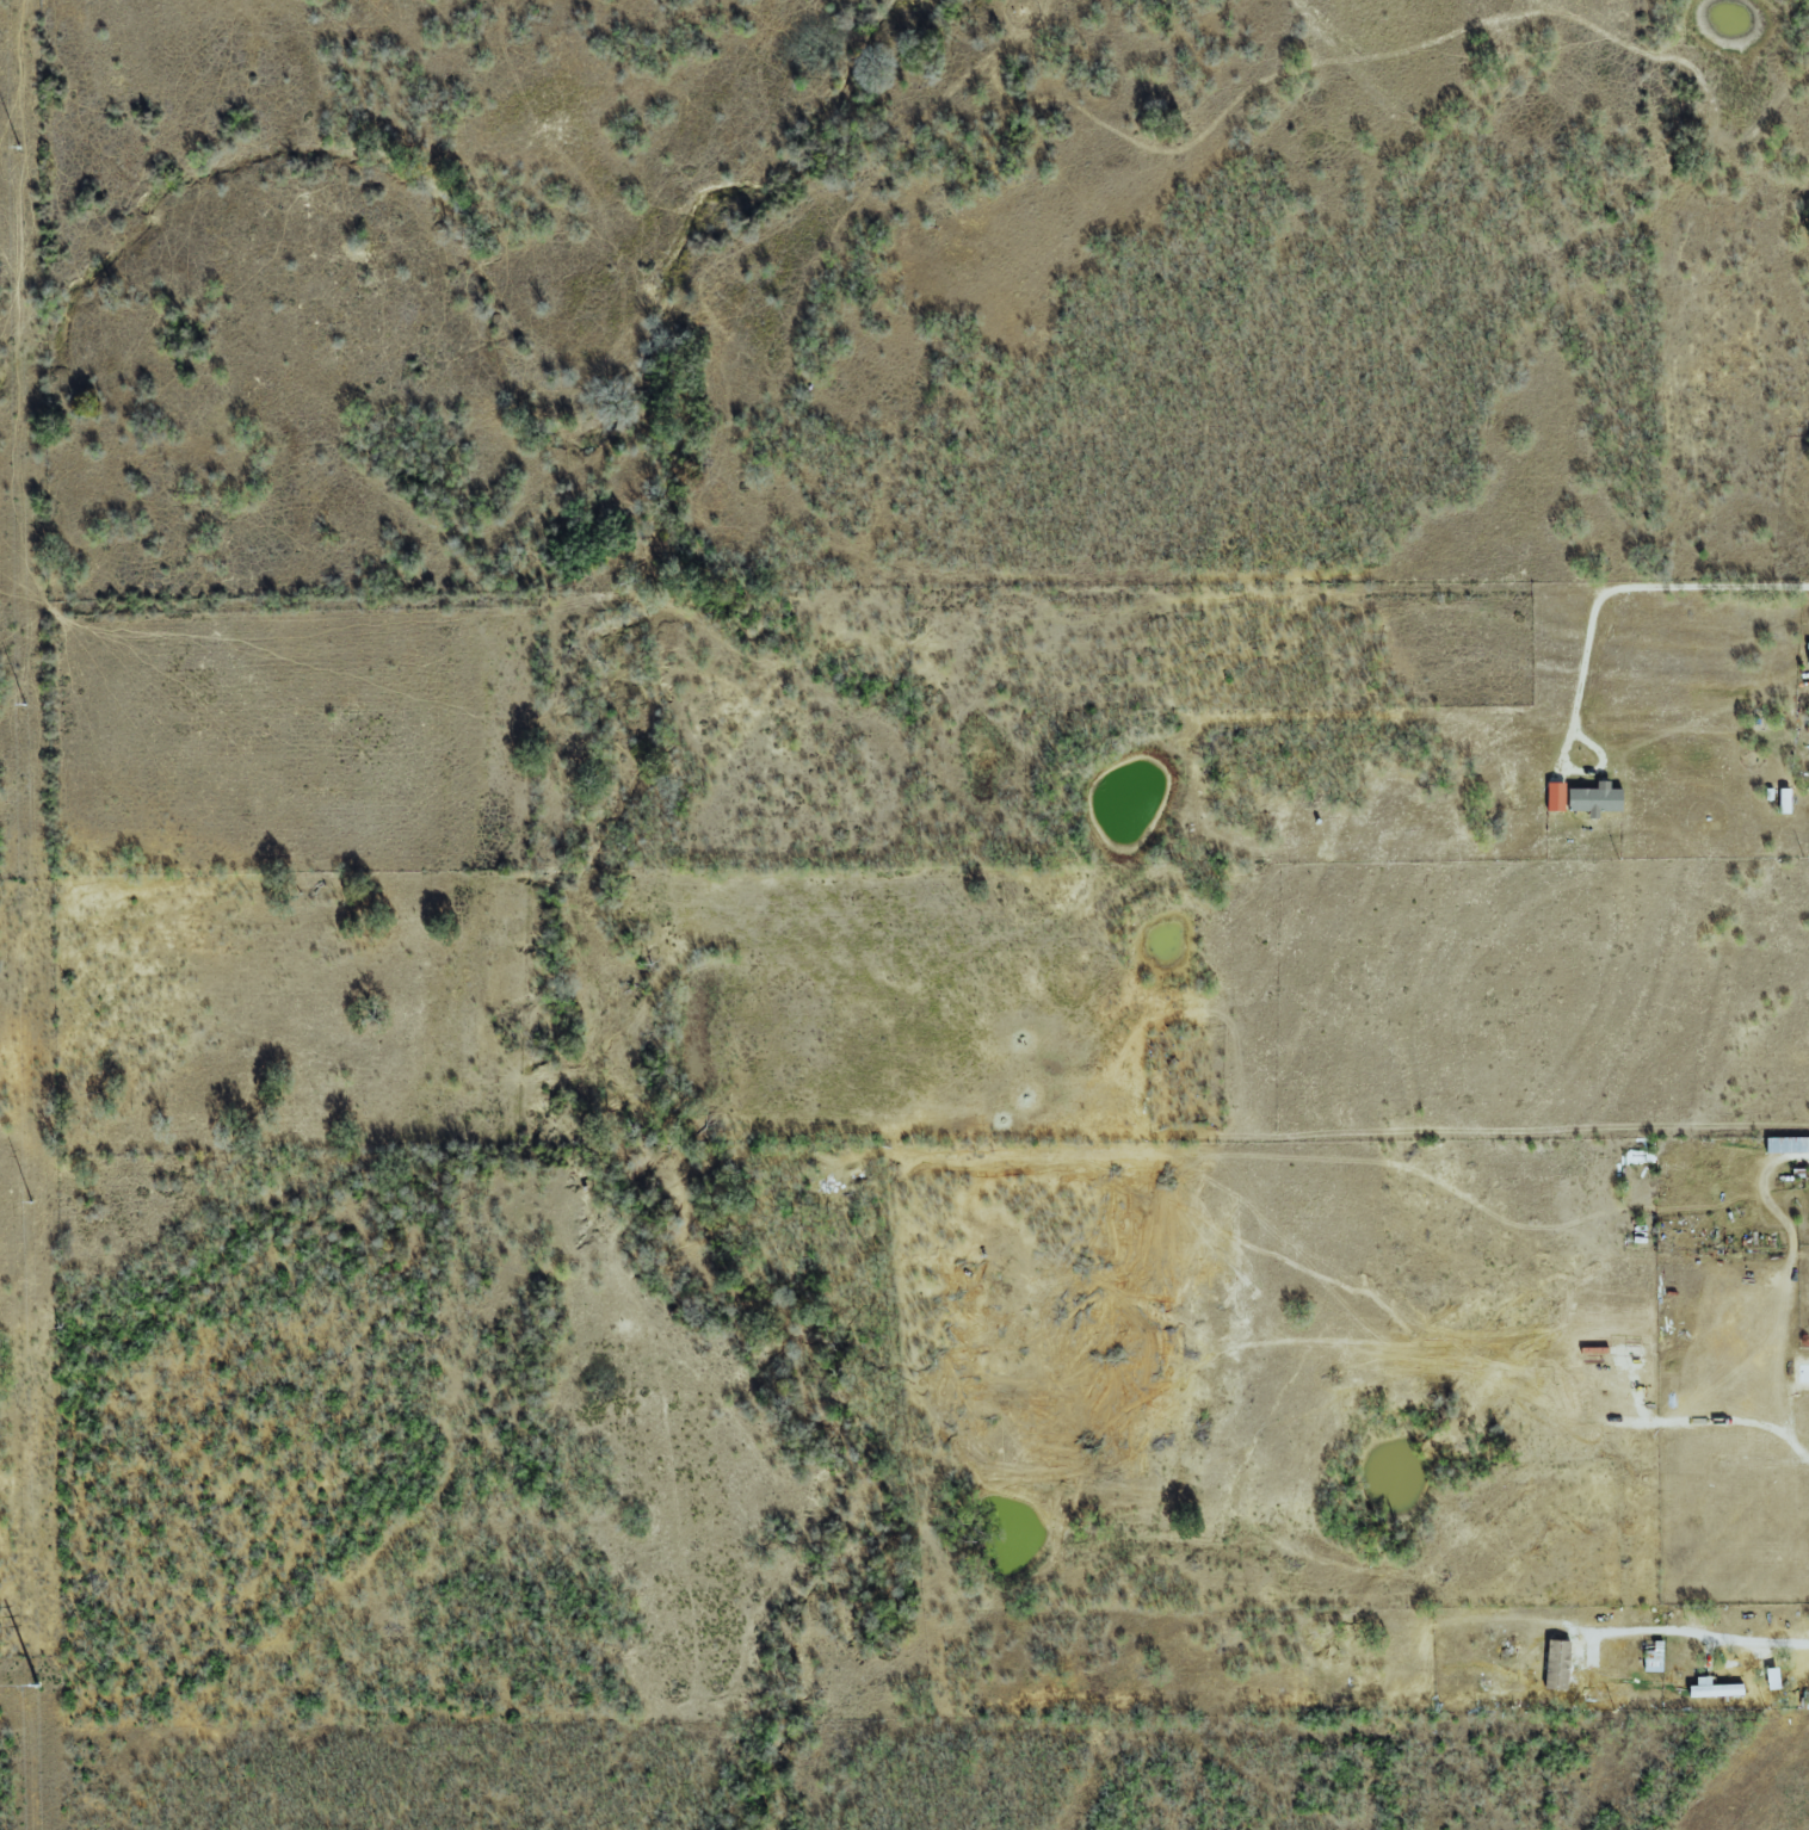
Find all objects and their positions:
power tower: (18, 148)
road: (1635, 588)
power tower: (24, 705)
building: (1556, 796)
building: (1595, 798)
building: (1786, 1144)
power tower: (29, 1203)
power tower: (36, 1688)
building: (1714, 1688)

